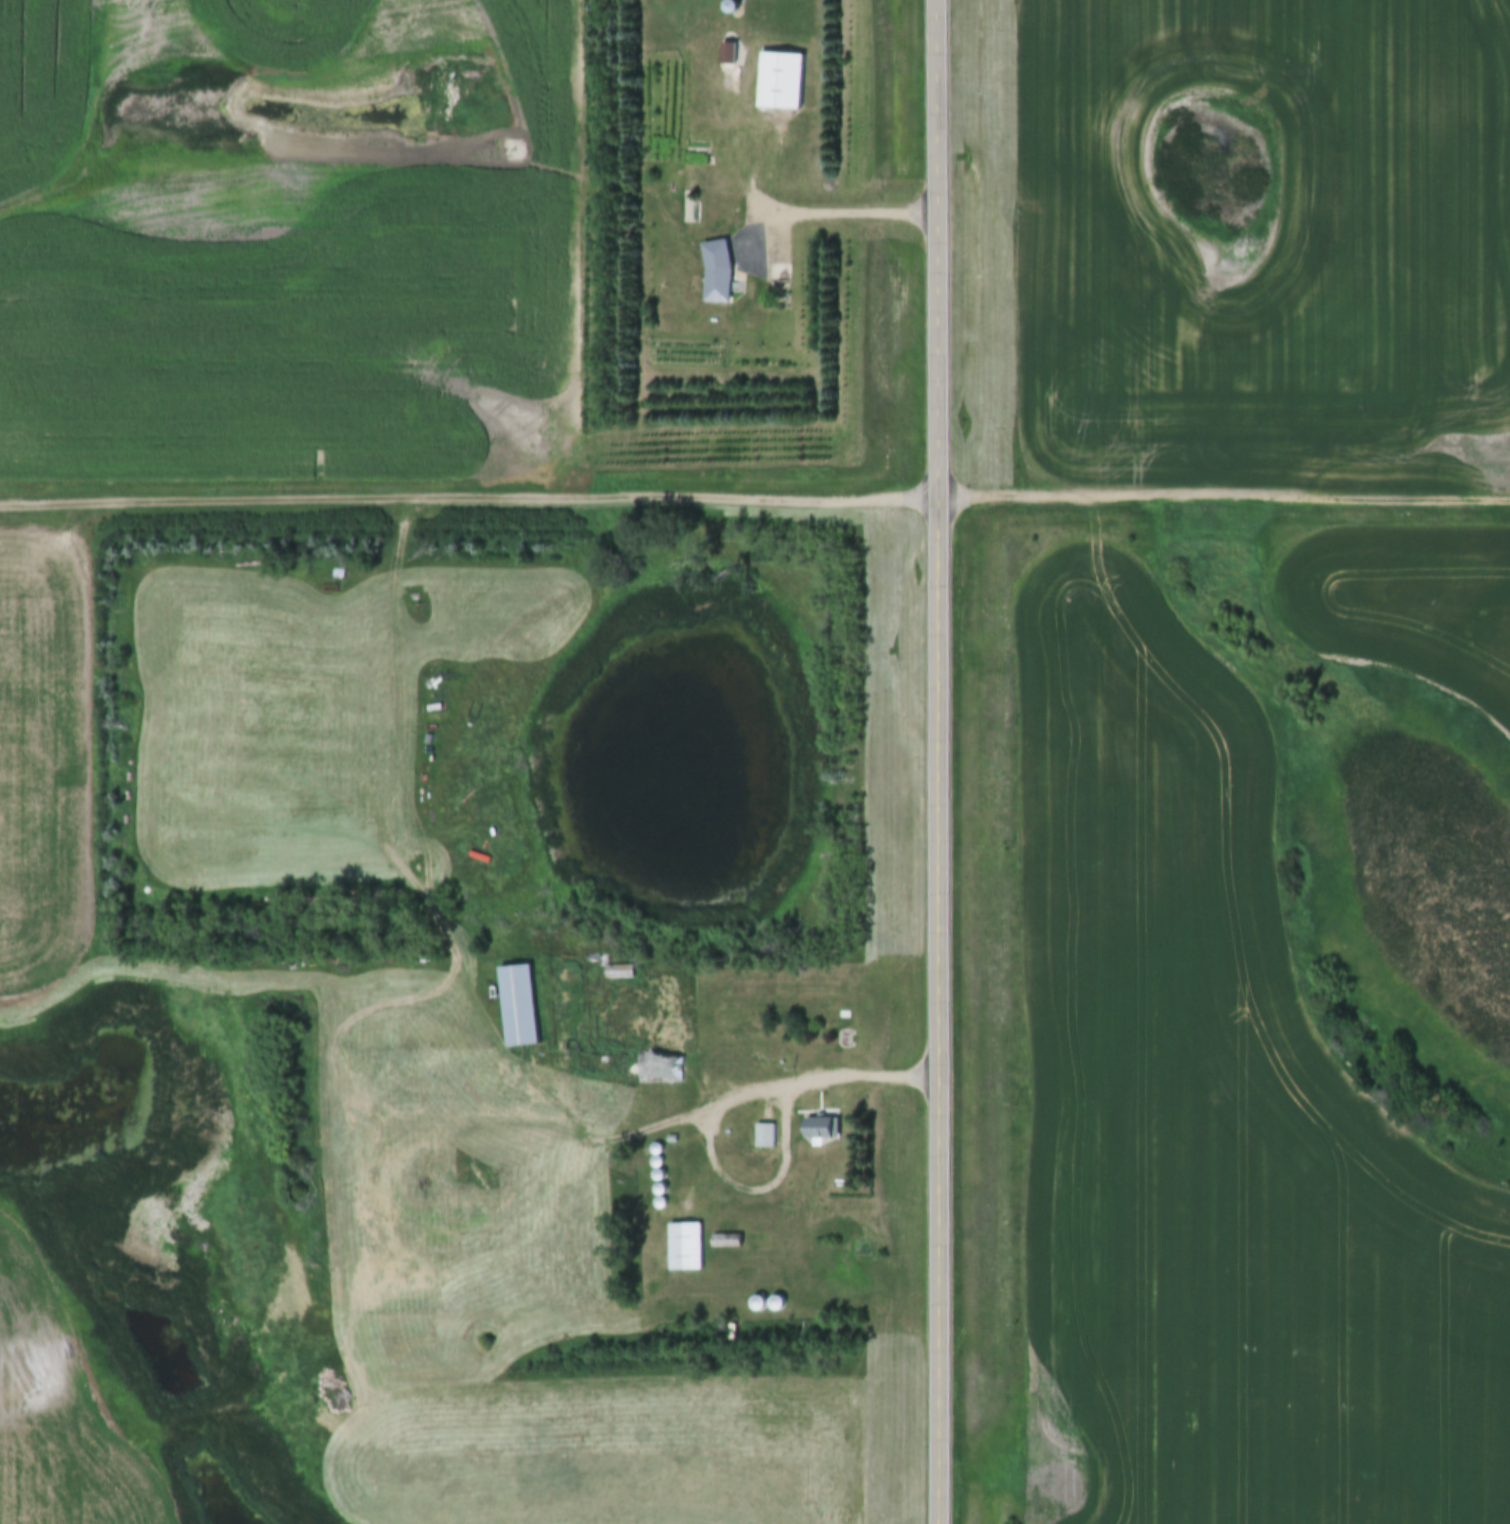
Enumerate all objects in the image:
building: (731, 5)
silo: (731, 5)
building: (726, 69)
building: (778, 80)
road: (942, 198)
road: (849, 207)
road: (756, 240)
building: (714, 272)
road: (754, 493)
road: (942, 961)
building: (619, 972)
building: (517, 1007)
building: (660, 1069)
road: (717, 1103)
building: (817, 1129)
building: (765, 1135)
building: (672, 1139)
building: (658, 1148)
silo: (658, 1148)
building: (659, 1161)
silo: (659, 1161)
building: (660, 1174)
silo: (660, 1174)
building: (661, 1188)
silo: (661, 1188)
building: (662, 1202)
silo: (662, 1202)
building: (726, 1241)
building: (683, 1247)
building: (778, 1302)
silo: (778, 1302)
building: (759, 1303)
silo: (759, 1303)

